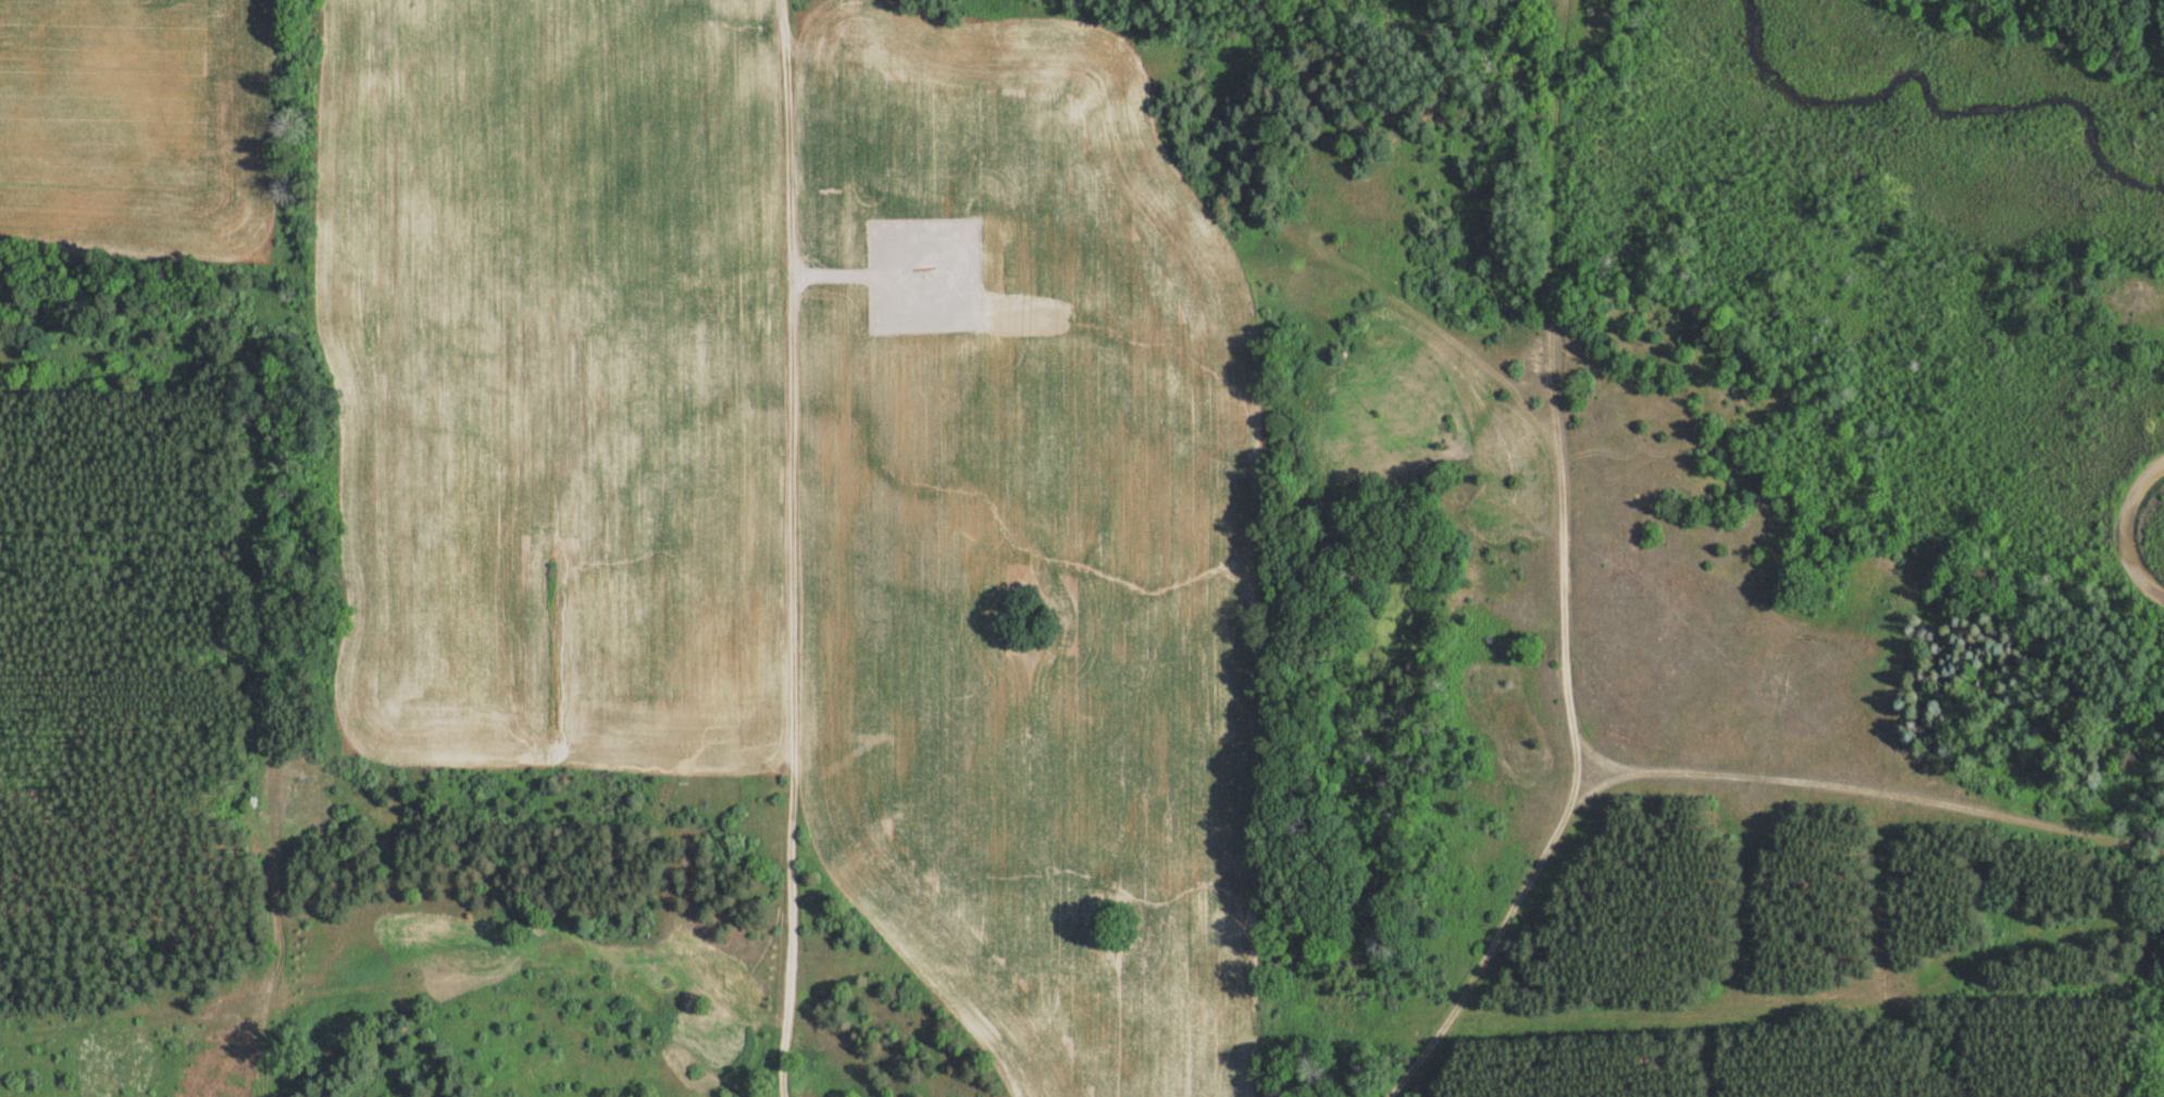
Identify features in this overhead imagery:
road: (264, 99)
road: (1190, 176)
road: (2124, 528)
road: (779, 548)
road: (1558, 686)
road: (1501, 948)

